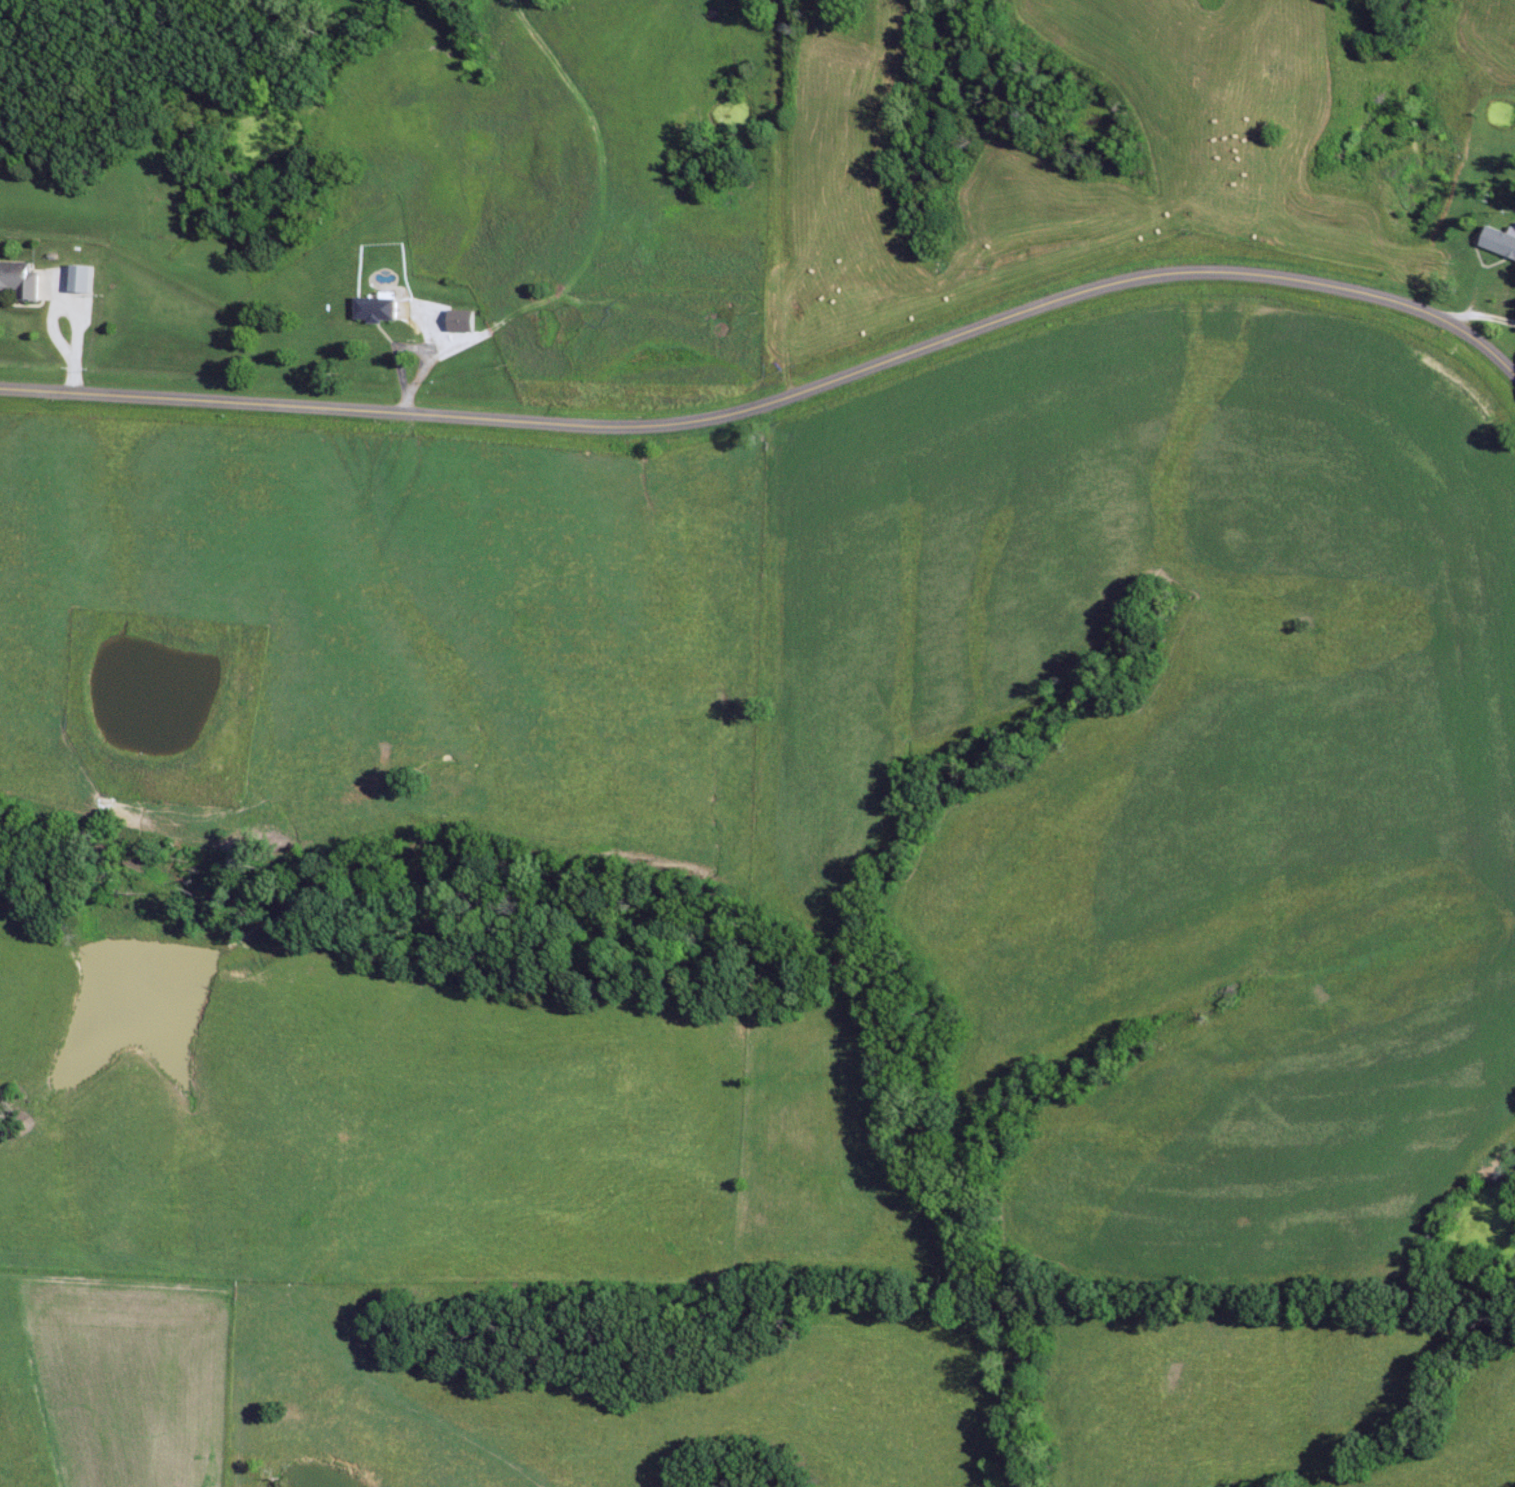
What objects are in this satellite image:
road: (829, 197)
road: (598, 216)
building: (1501, 242)
building: (83, 280)
building: (20, 281)
building: (377, 311)
road: (1482, 318)
road: (410, 342)
road: (779, 399)

